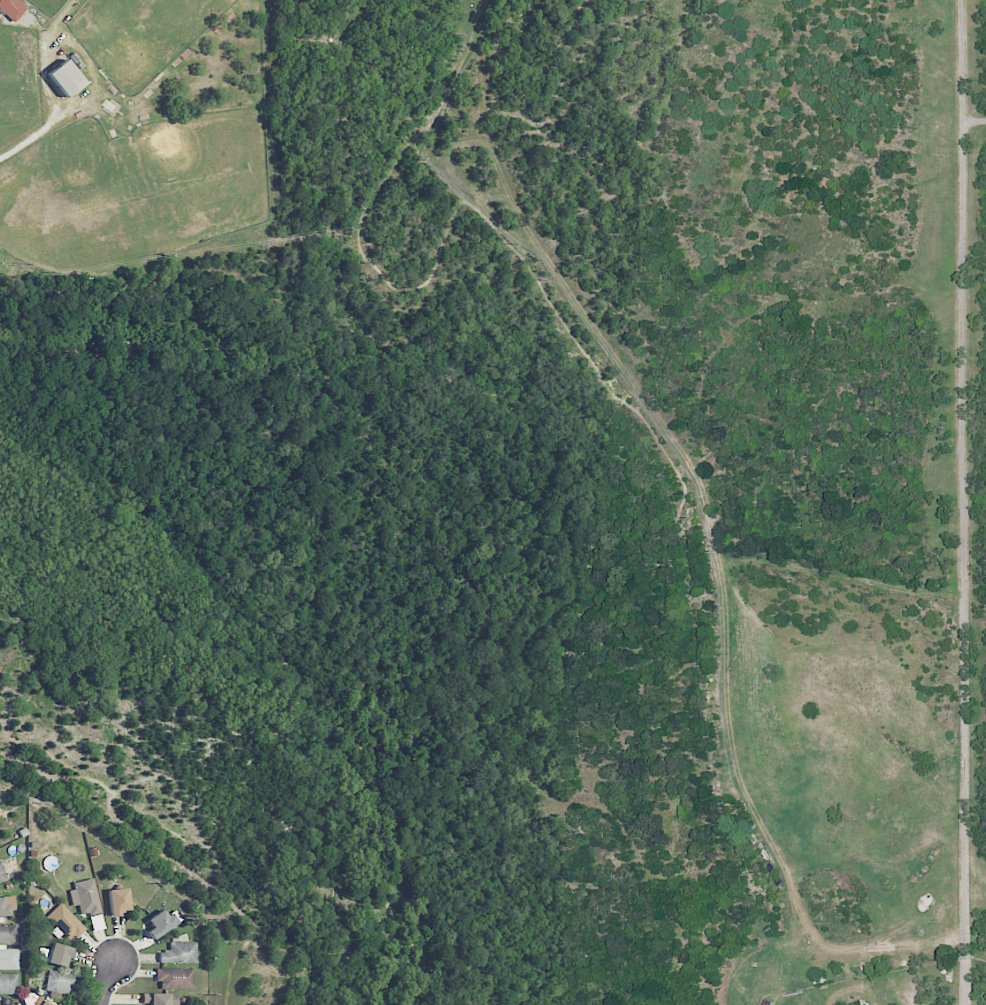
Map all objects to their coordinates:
building: (12, 8)
building: (66, 77)
road: (973, 120)
road: (33, 136)
road: (961, 502)
wastewater plant: (854, 777)
building: (1, 875)
building: (85, 898)
building: (118, 901)
building: (3, 907)
building: (65, 922)
building: (162, 923)
building: (8, 934)
building: (179, 953)
building: (59, 955)
building: (9, 959)
building: (175, 978)
building: (59, 982)
road: (108, 983)
building: (8, 984)
building: (162, 998)
building: (45, 1003)

